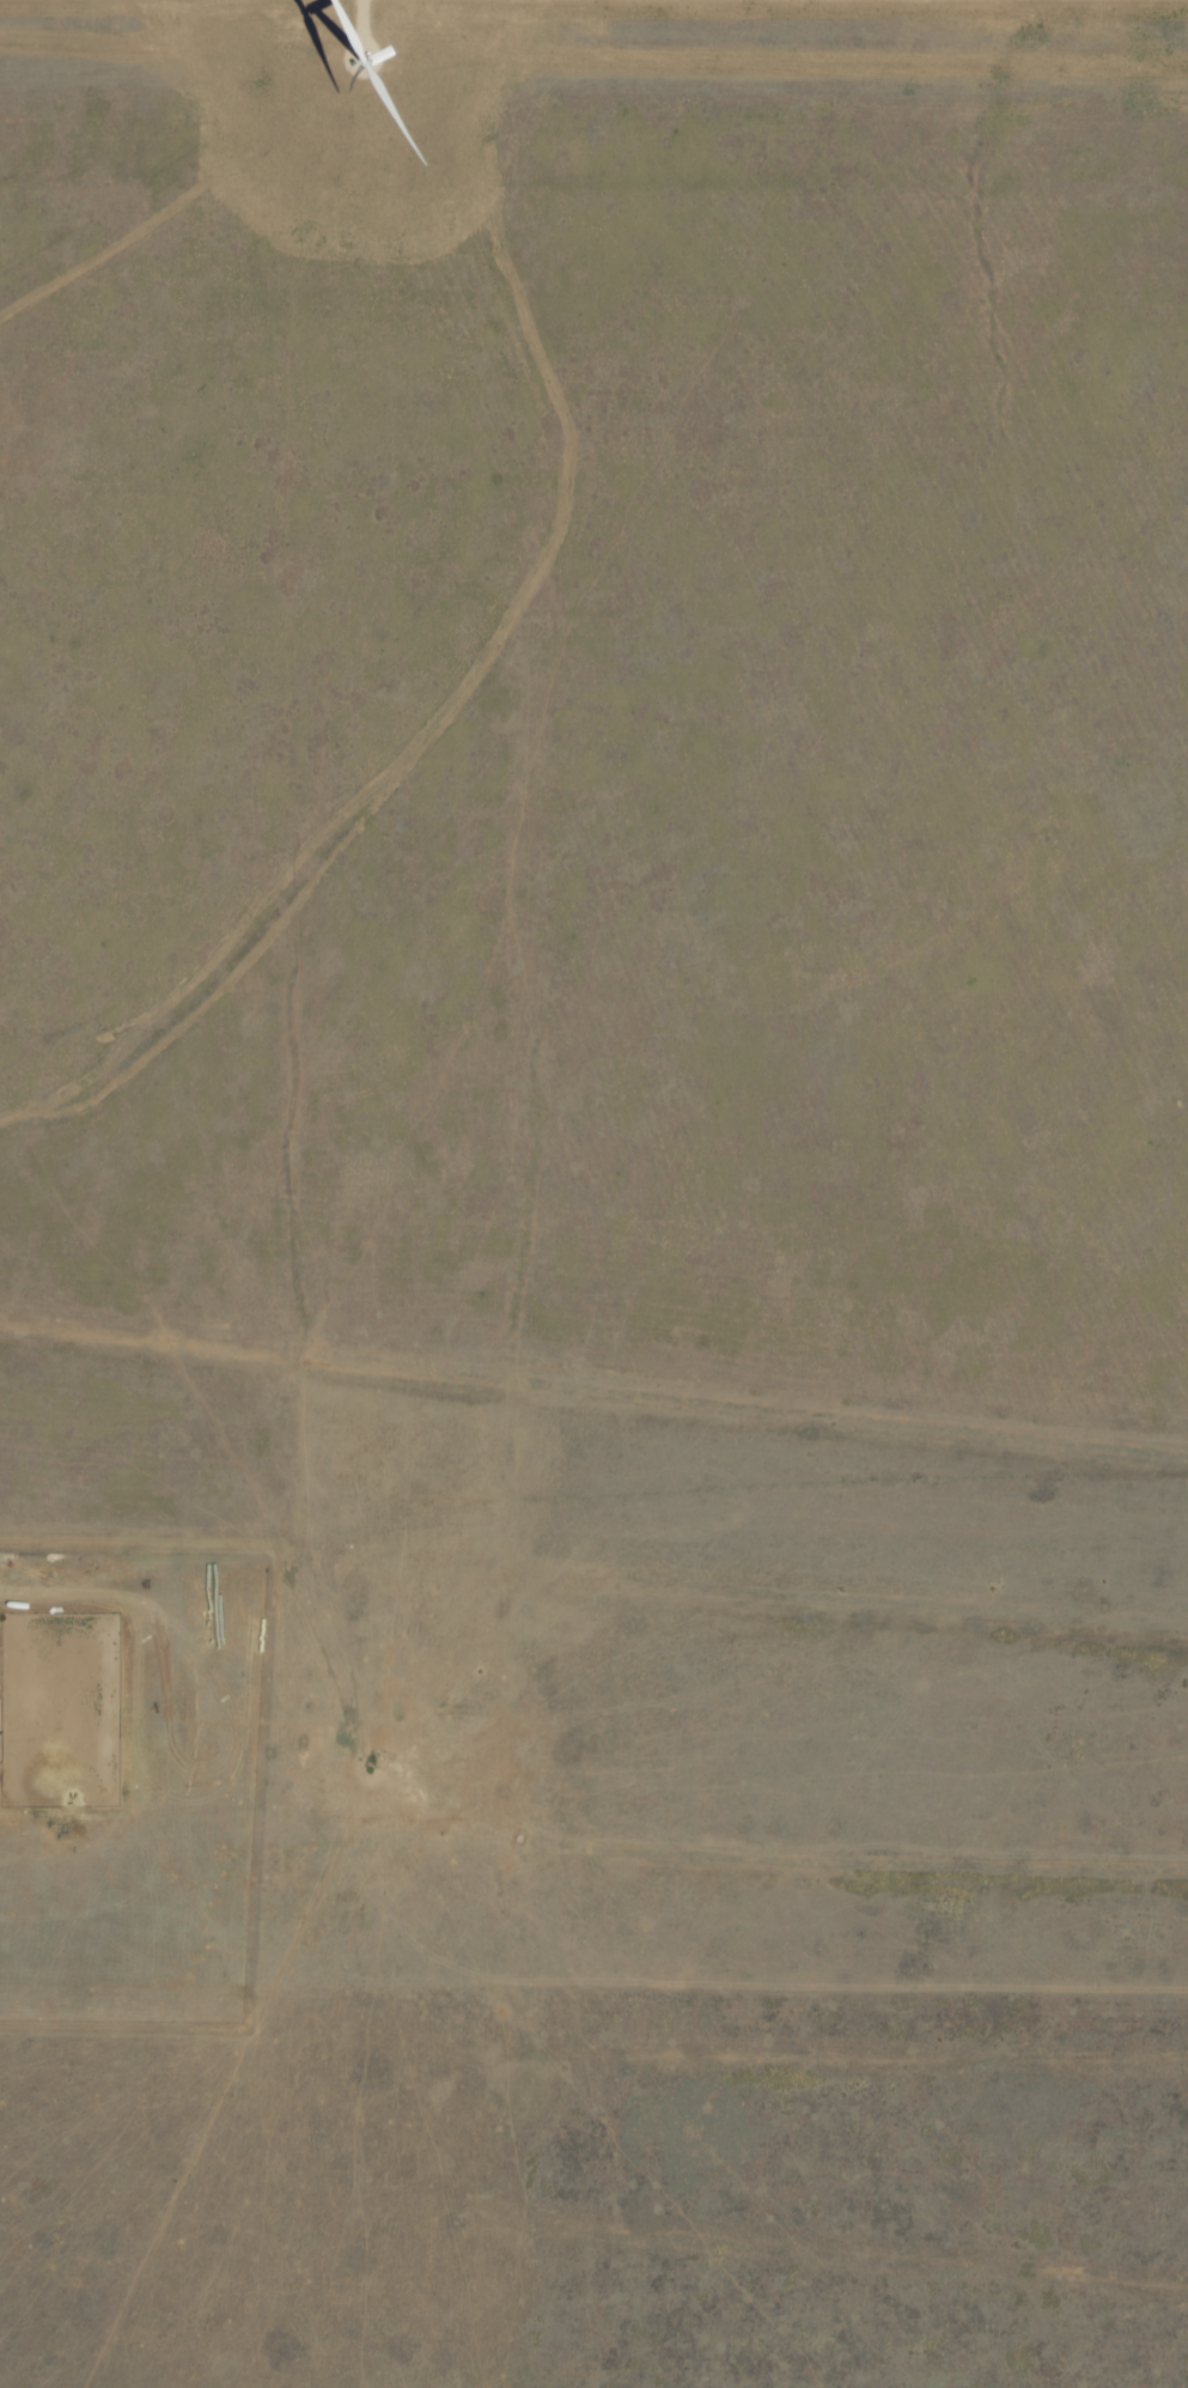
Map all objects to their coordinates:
road: (365, 20)
wind turbine: (370, 60)

